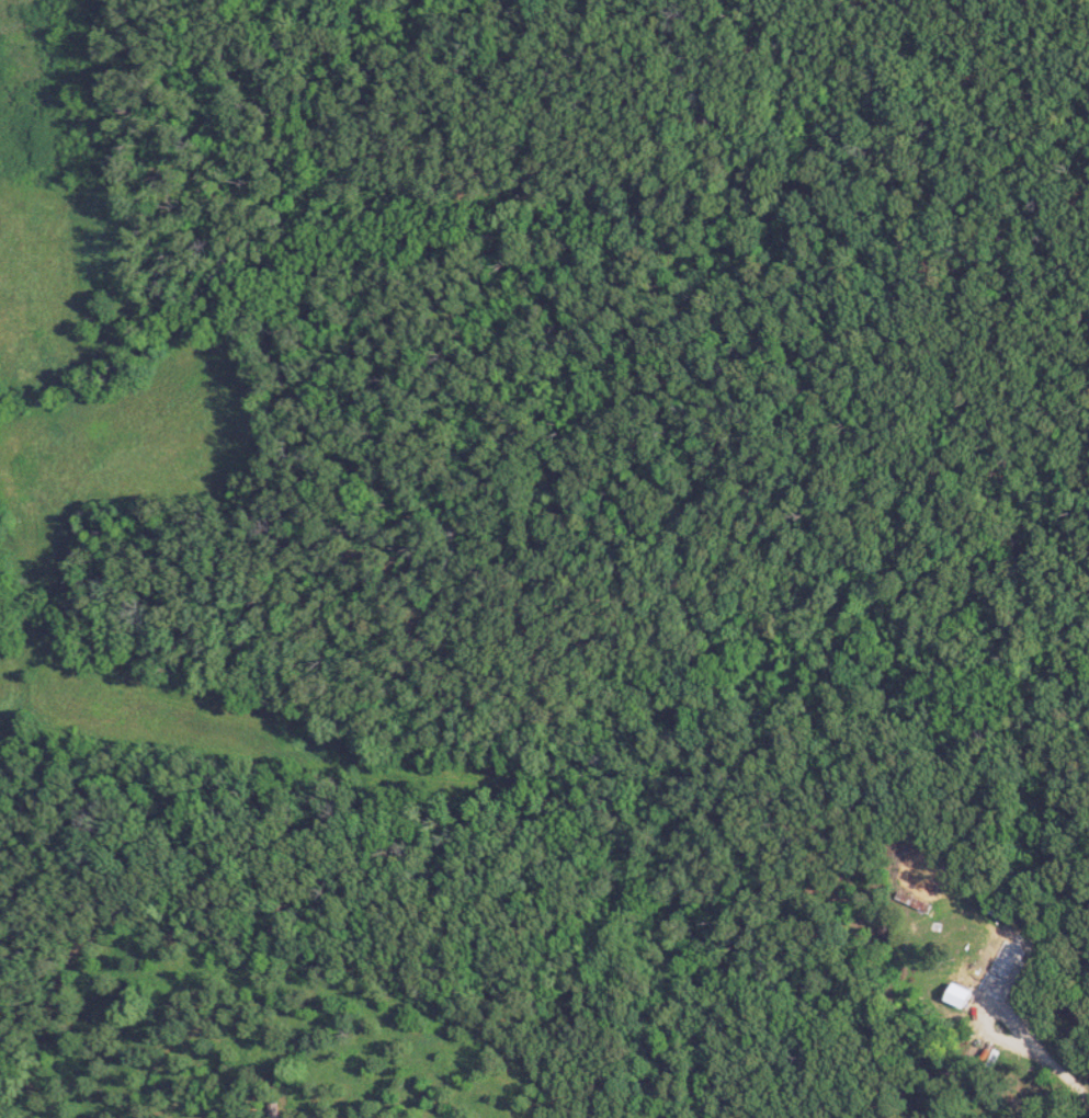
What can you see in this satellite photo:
building: (1002, 969)
road: (1043, 1059)

